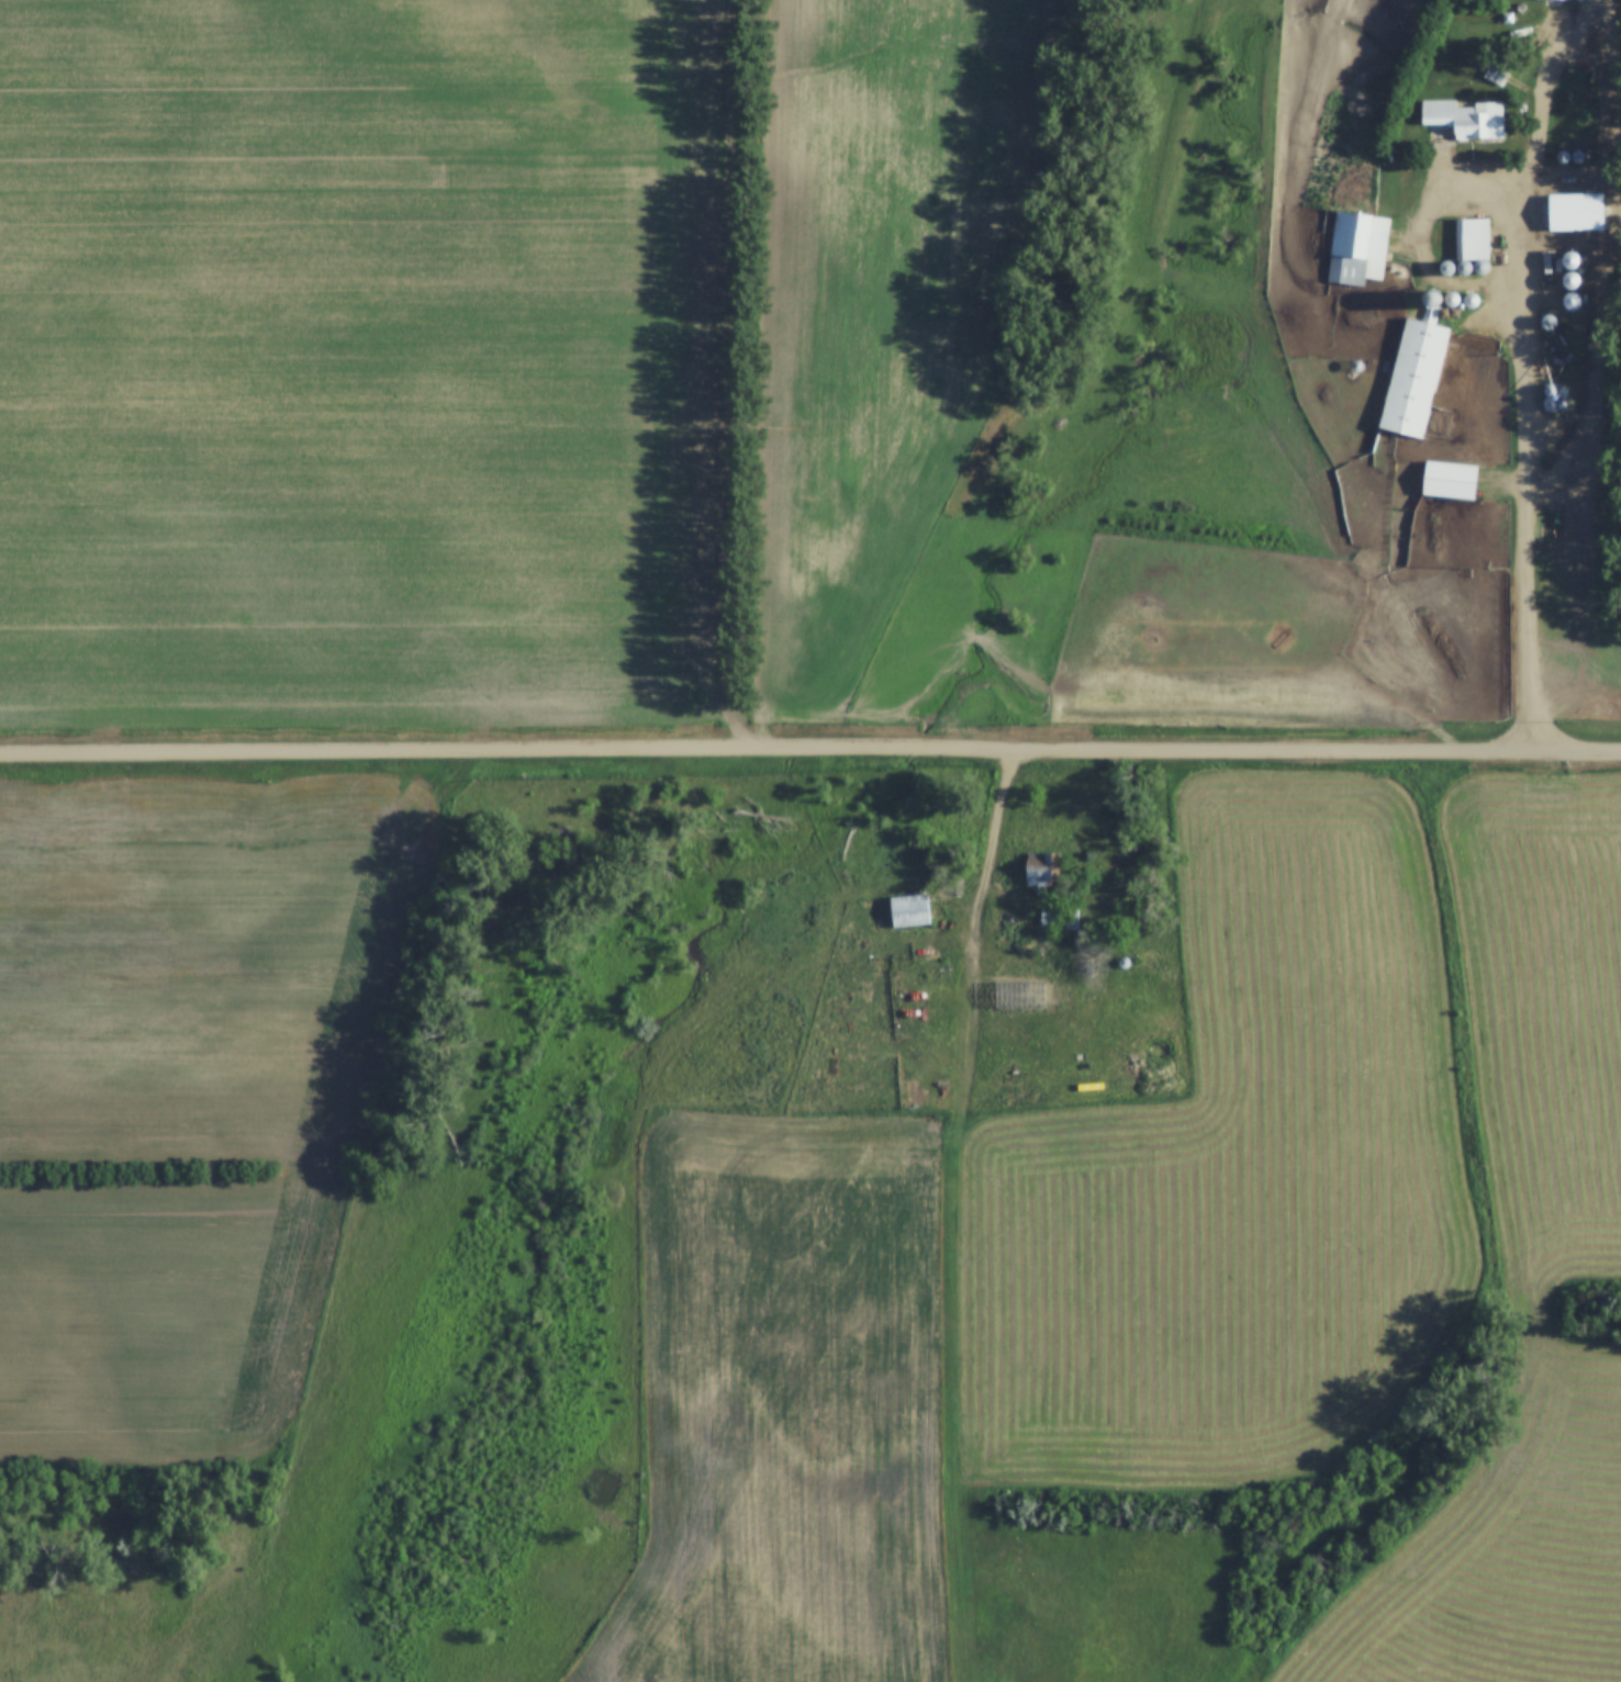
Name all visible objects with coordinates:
building: (1496, 71)
building: (1581, 102)
building: (1464, 119)
building: (1575, 212)
road: (1429, 236)
building: (1473, 244)
building: (1357, 247)
road: (1534, 371)
building: (1413, 378)
building: (1449, 480)
road: (810, 743)
building: (1043, 876)
road: (1013, 899)
building: (908, 911)
building: (1058, 918)

